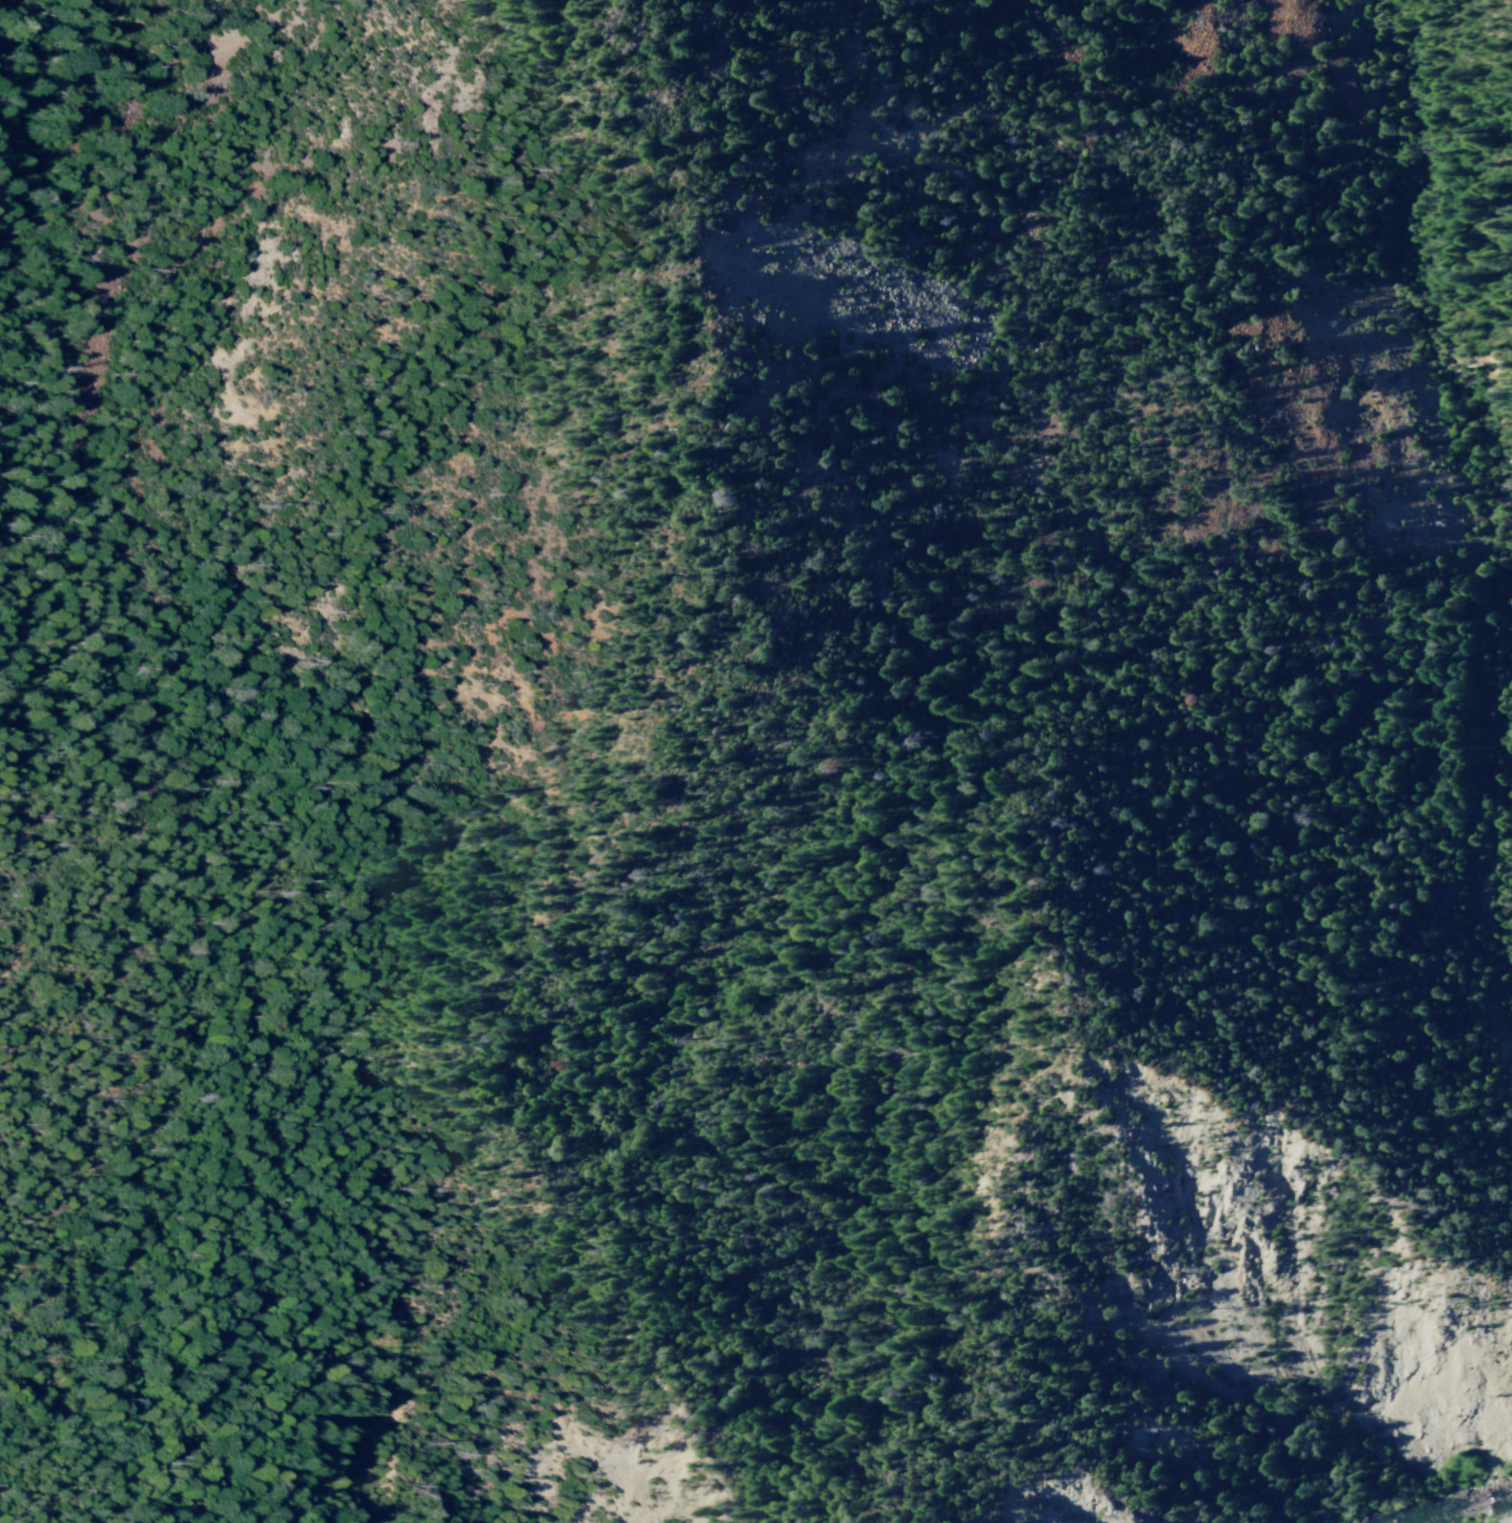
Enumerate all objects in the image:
river: (1447, 1497)
river: (1389, 1522)

